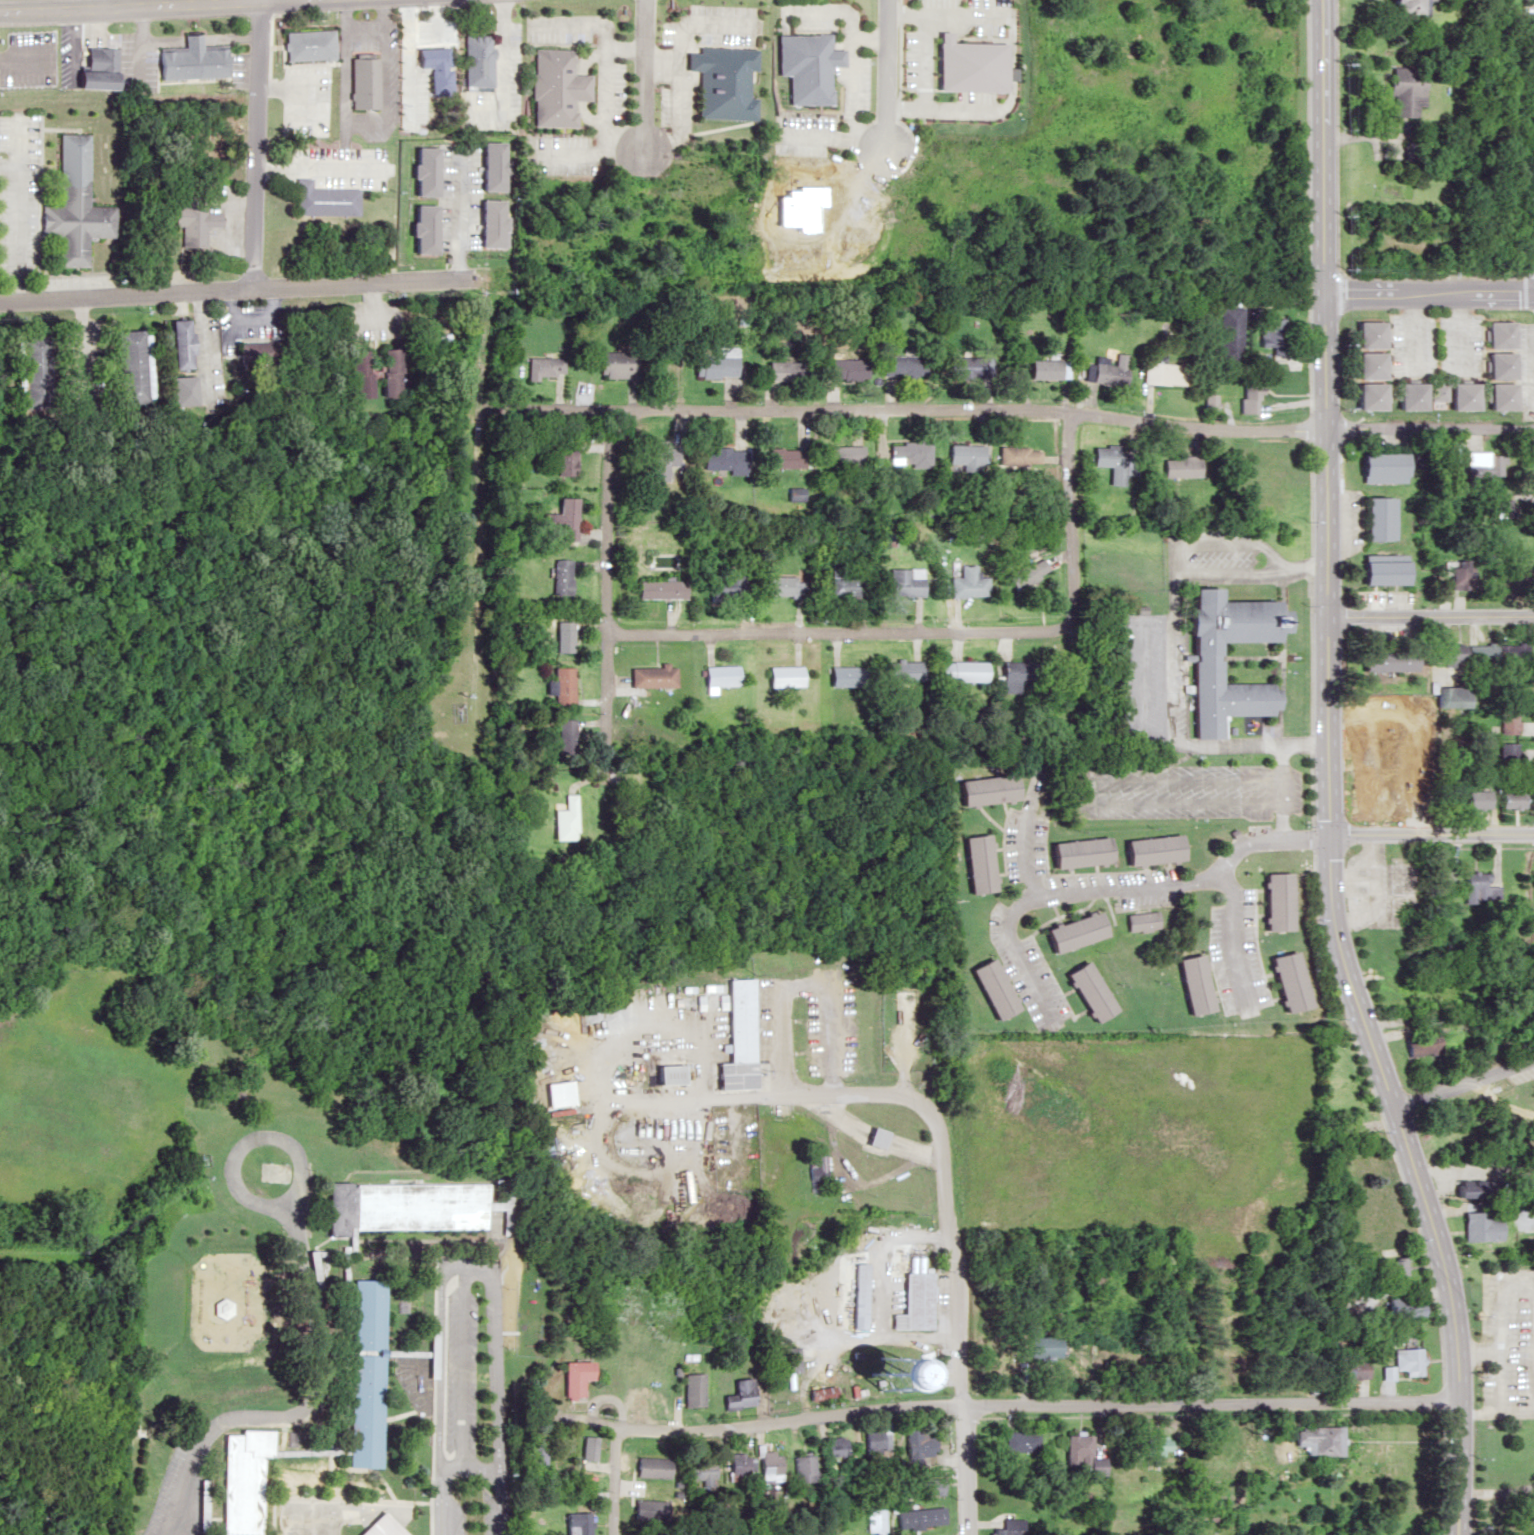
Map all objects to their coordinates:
road: (106, 3)
road: (129, 5)
building: (1403, 6)
building: (309, 45)
building: (431, 56)
road: (502, 57)
building: (194, 60)
building: (475, 61)
building: (801, 65)
building: (103, 68)
road: (887, 76)
road: (644, 78)
building: (720, 80)
building: (363, 82)
building: (553, 86)
building: (1402, 89)
road: (251, 143)
building: (487, 165)
building: (421, 171)
building: (324, 199)
building: (76, 220)
building: (195, 222)
building: (485, 223)
building: (419, 228)
road: (235, 288)
road: (1429, 293)
building: (1229, 333)
building: (1495, 333)
building: (1271, 334)
building: (1363, 334)
building: (185, 344)
building: (259, 352)
building: (712, 362)
building: (897, 364)
building: (1362, 365)
building: (1495, 365)
building: (135, 366)
building: (967, 366)
building: (545, 367)
building: (1043, 367)
building: (613, 368)
building: (839, 368)
building: (1107, 369)
building: (36, 371)
building: (778, 371)
building: (394, 372)
building: (1160, 373)
building: (367, 388)
building: (187, 390)
building: (1448, 394)
building: (1248, 396)
building: (1363, 396)
building: (1402, 396)
building: (1493, 396)
building: (1208, 402)
road: (977, 410)
road: (1429, 428)
building: (905, 454)
building: (838, 455)
building: (1019, 455)
building: (1446, 455)
building: (963, 456)
building: (784, 457)
building: (565, 458)
building: (720, 459)
building: (658, 460)
building: (1111, 462)
building: (1376, 465)
building: (1482, 466)
building: (1178, 467)
road: (1071, 517)
building: (1372, 518)
building: (565, 521)
road: (607, 569)
building: (1023, 573)
building: (1375, 573)
building: (563, 577)
building: (1458, 578)
building: (899, 581)
building: (723, 583)
building: (962, 583)
building: (843, 585)
building: (776, 586)
building: (661, 589)
road: (1429, 616)
road: (839, 630)
building: (564, 636)
building: (1460, 652)
building: (1509, 652)
road: (1175, 659)
building: (1202, 662)
building: (1391, 666)
building: (902, 670)
building: (958, 671)
building: (717, 676)
building: (781, 676)
building: (843, 676)
building: (1014, 676)
building: (655, 677)
building: (565, 687)
building: (1448, 697)
building: (1504, 720)
building: (1357, 746)
road: (1040, 760)
road: (1326, 776)
building: (1509, 778)
building: (1451, 783)
building: (981, 790)
building: (1360, 791)
building: (1475, 799)
building: (567, 820)
road: (1430, 835)
building: (1148, 850)
building: (1073, 852)
building: (969, 863)
building: (1354, 877)
building: (1439, 878)
road: (1111, 886)
building: (1477, 886)
building: (1271, 899)
building: (1140, 921)
building: (1069, 929)
road: (1239, 930)
road: (804, 979)
building: (1283, 979)
building: (1192, 982)
building: (987, 986)
building: (1085, 989)
building: (734, 1037)
building: (1419, 1043)
road: (695, 1063)
parking lot: (1533, 1066)
building: (665, 1072)
road: (1524, 1074)
road: (1462, 1088)
building: (1342, 1095)
road: (828, 1096)
road: (601, 1107)
park: (1485, 1120)
building: (871, 1137)
road: (1402, 1181)
road: (268, 1204)
building: (395, 1205)
building: (1475, 1226)
building: (1391, 1262)
building: (853, 1295)
building: (913, 1297)
building: (1398, 1305)
building: (1533, 1343)
road: (957, 1346)
building: (1040, 1346)
building: (781, 1358)
building: (1404, 1360)
building: (1345, 1368)
building: (362, 1372)
building: (567, 1376)
building: (683, 1388)
road: (442, 1389)
road: (501, 1391)
building: (736, 1394)
road: (1033, 1404)
road: (303, 1407)
building: (871, 1439)
building: (1312, 1439)
building: (1018, 1441)
building: (917, 1443)
building: (832, 1445)
building: (1152, 1445)
building: (582, 1447)
building: (532, 1450)
building: (1079, 1453)
building: (557, 1454)
building: (647, 1466)
building: (734, 1467)
building: (764, 1467)
building: (800, 1468)
building: (696, 1470)
building: (242, 1479)
road: (611, 1481)
building: (930, 1486)
building: (921, 1516)
building: (874, 1521)
building: (577, 1523)
building: (377, 1526)
building: (1009, 1527)

